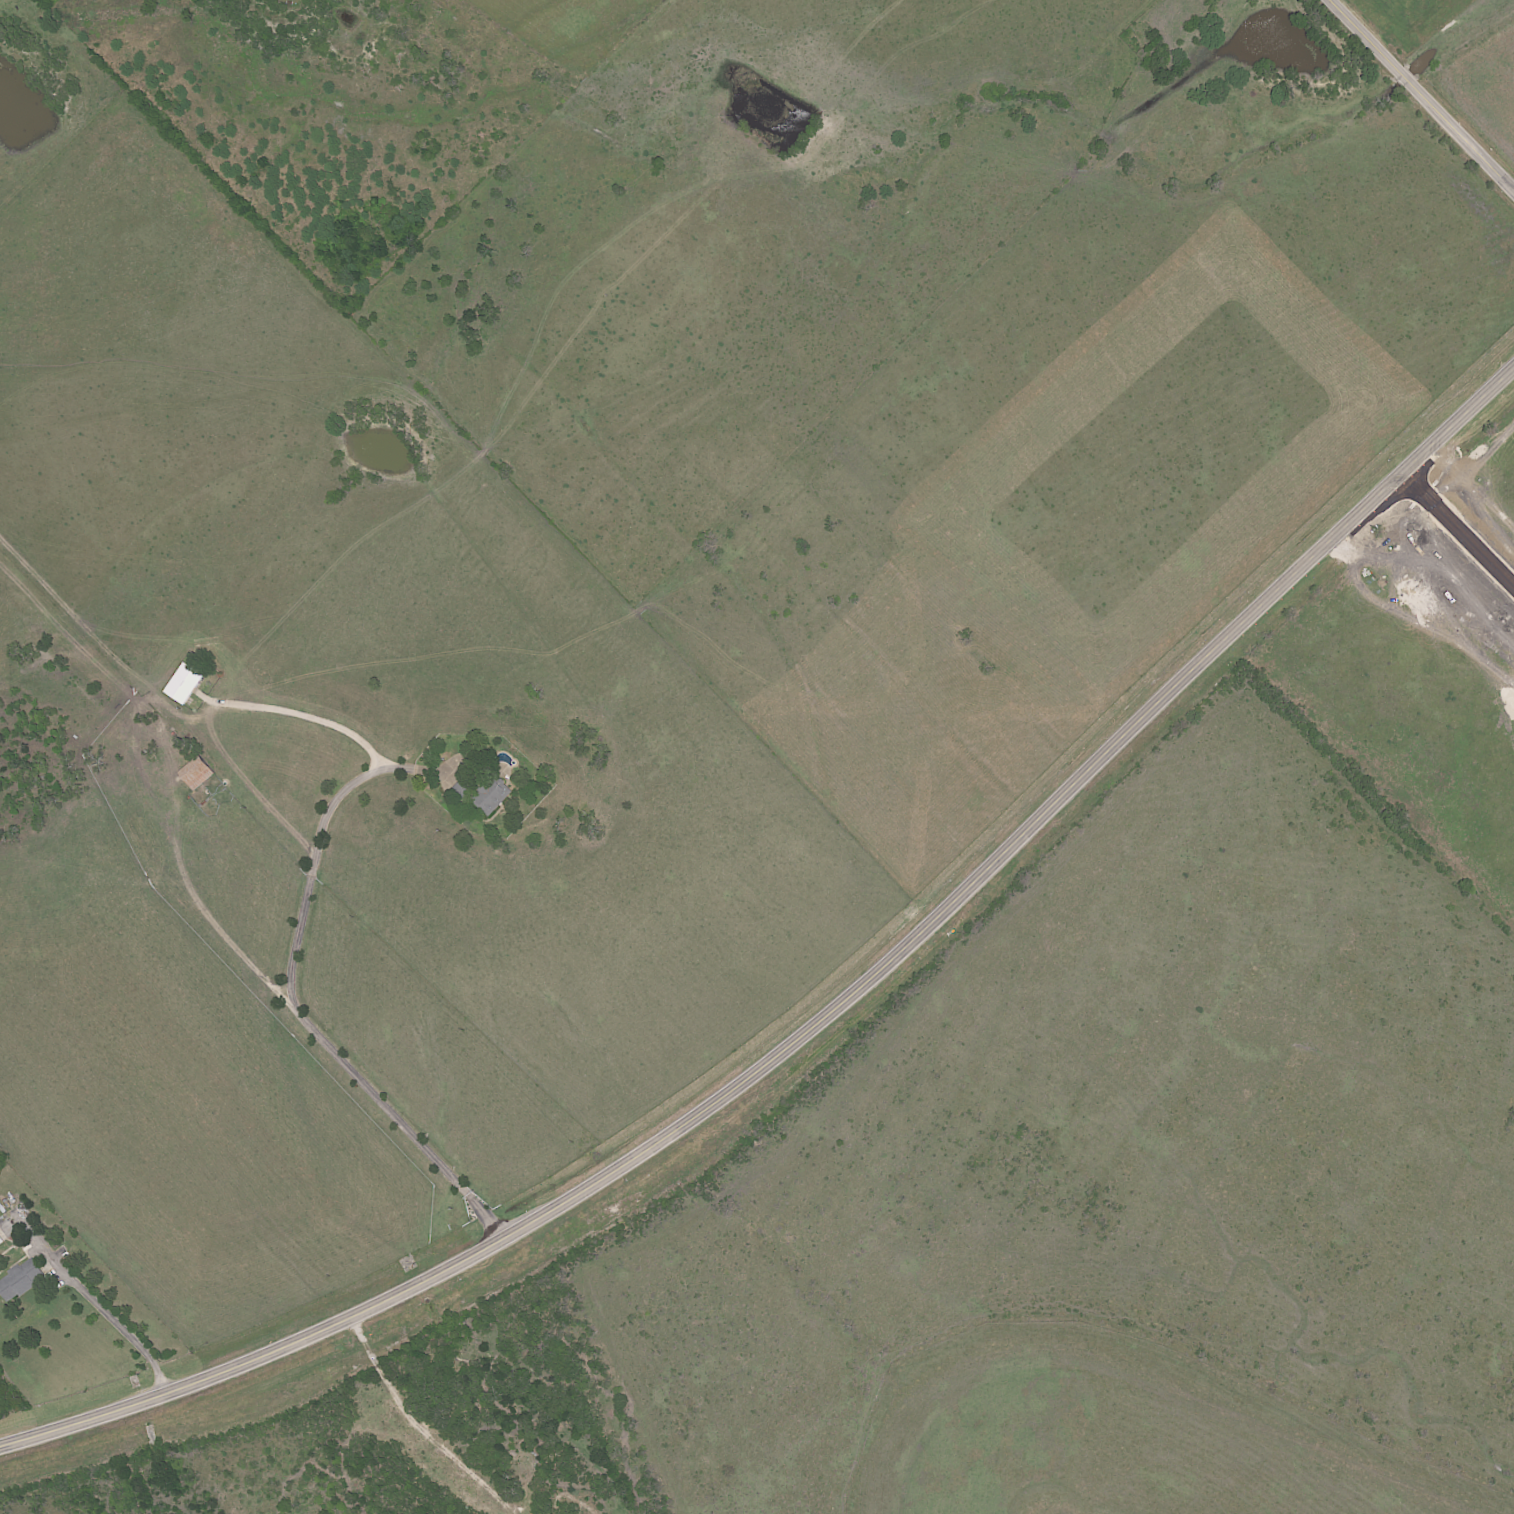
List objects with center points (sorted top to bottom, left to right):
road: (1421, 95)
building: (182, 683)
building: (196, 775)
building: (489, 797)
road: (331, 802)
road: (829, 1016)
building: (0, 1242)
building: (19, 1279)
road: (116, 1322)
road: (417, 1424)

